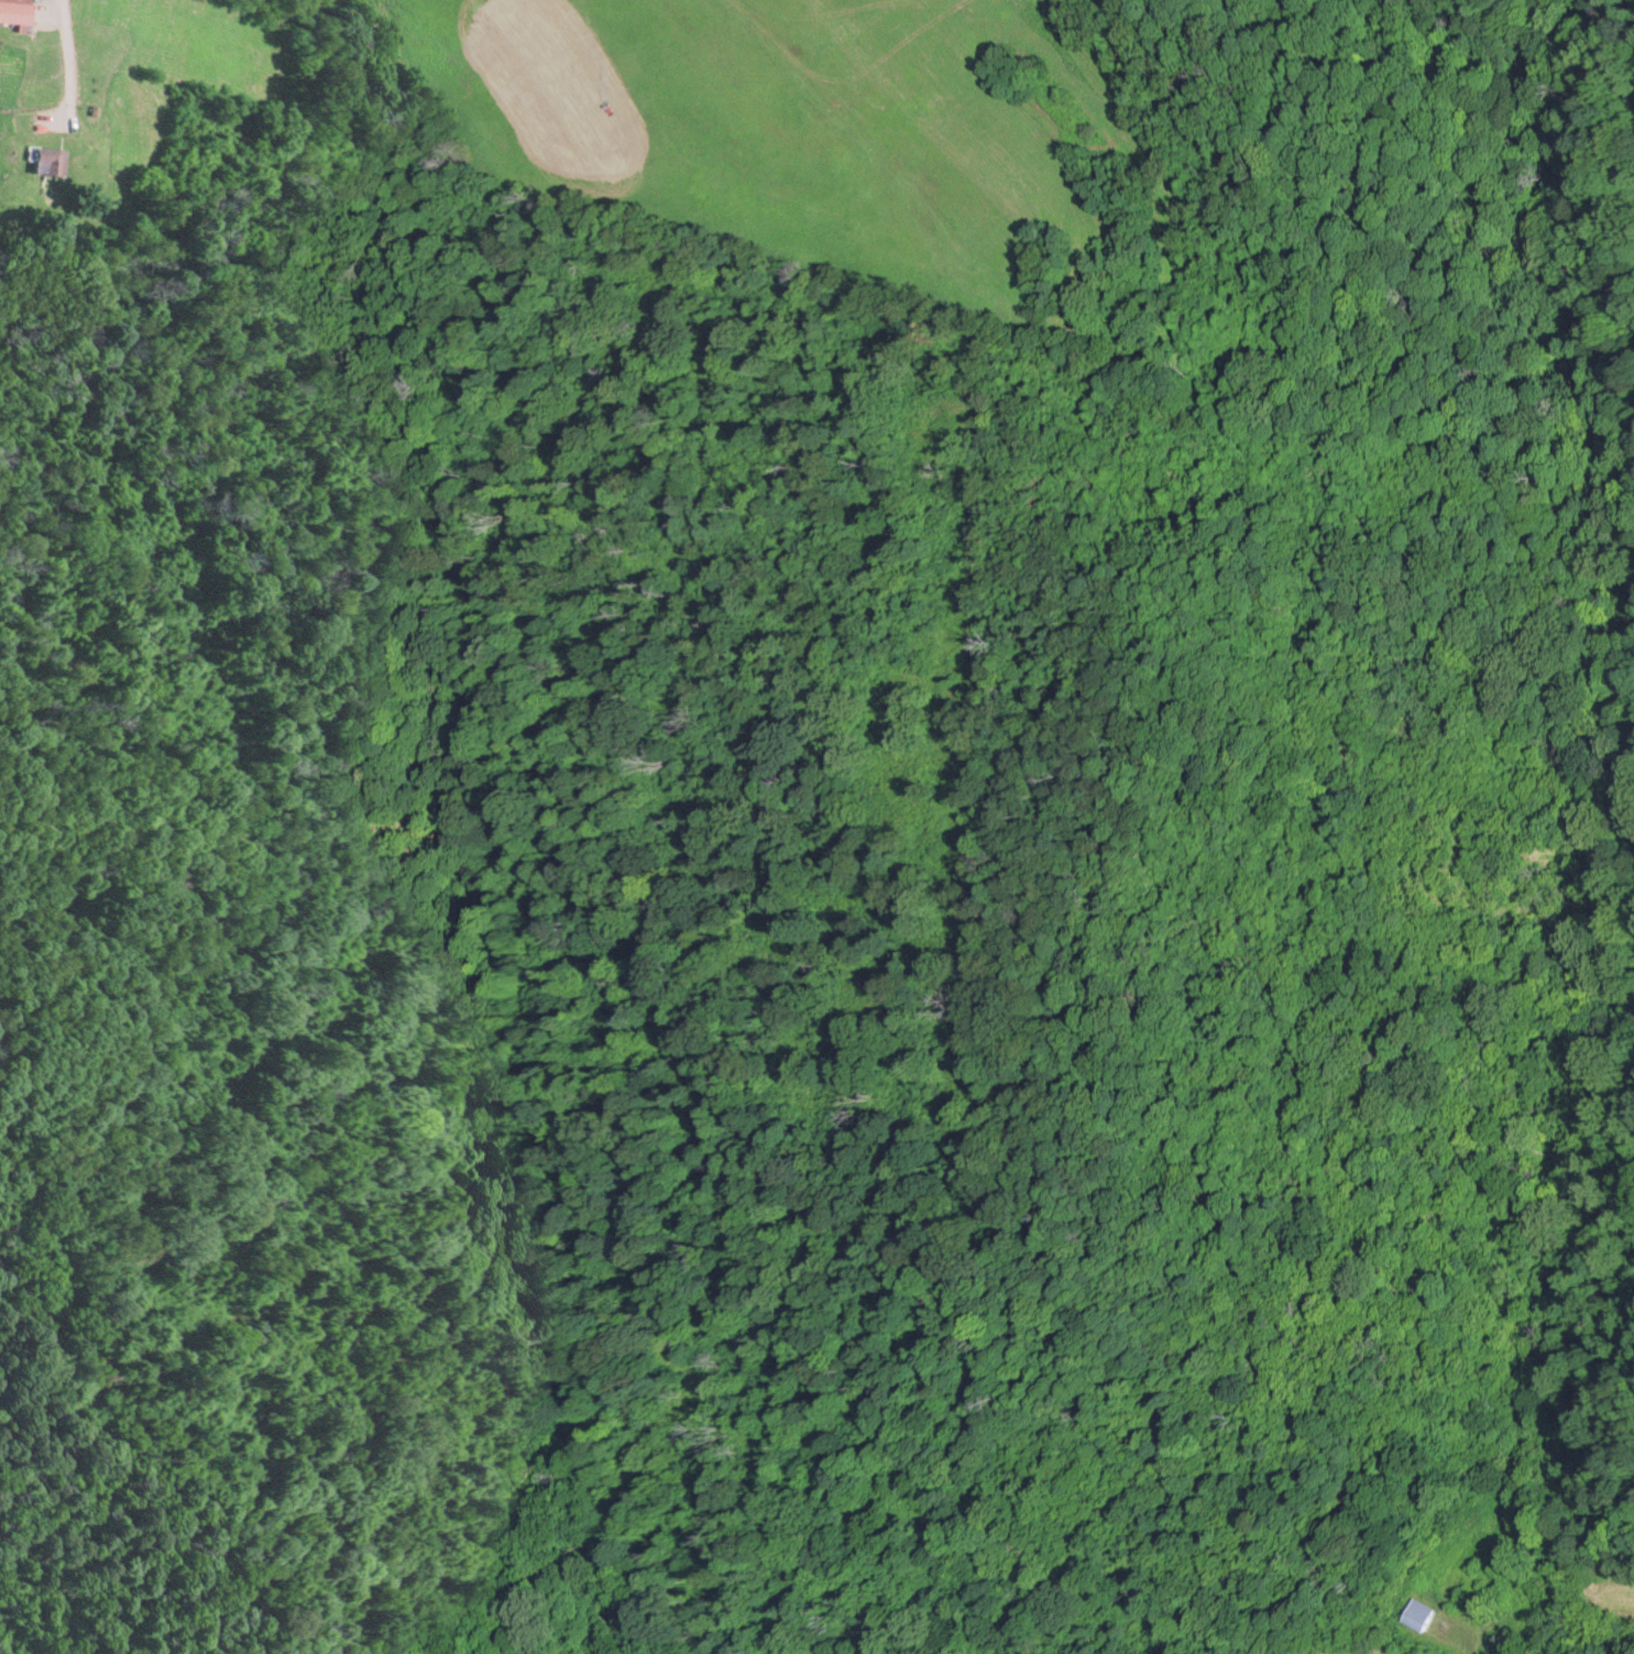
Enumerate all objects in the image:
building: (14, 11)
road: (66, 43)
building: (46, 160)
road: (1479, 1604)
building: (1419, 1613)

